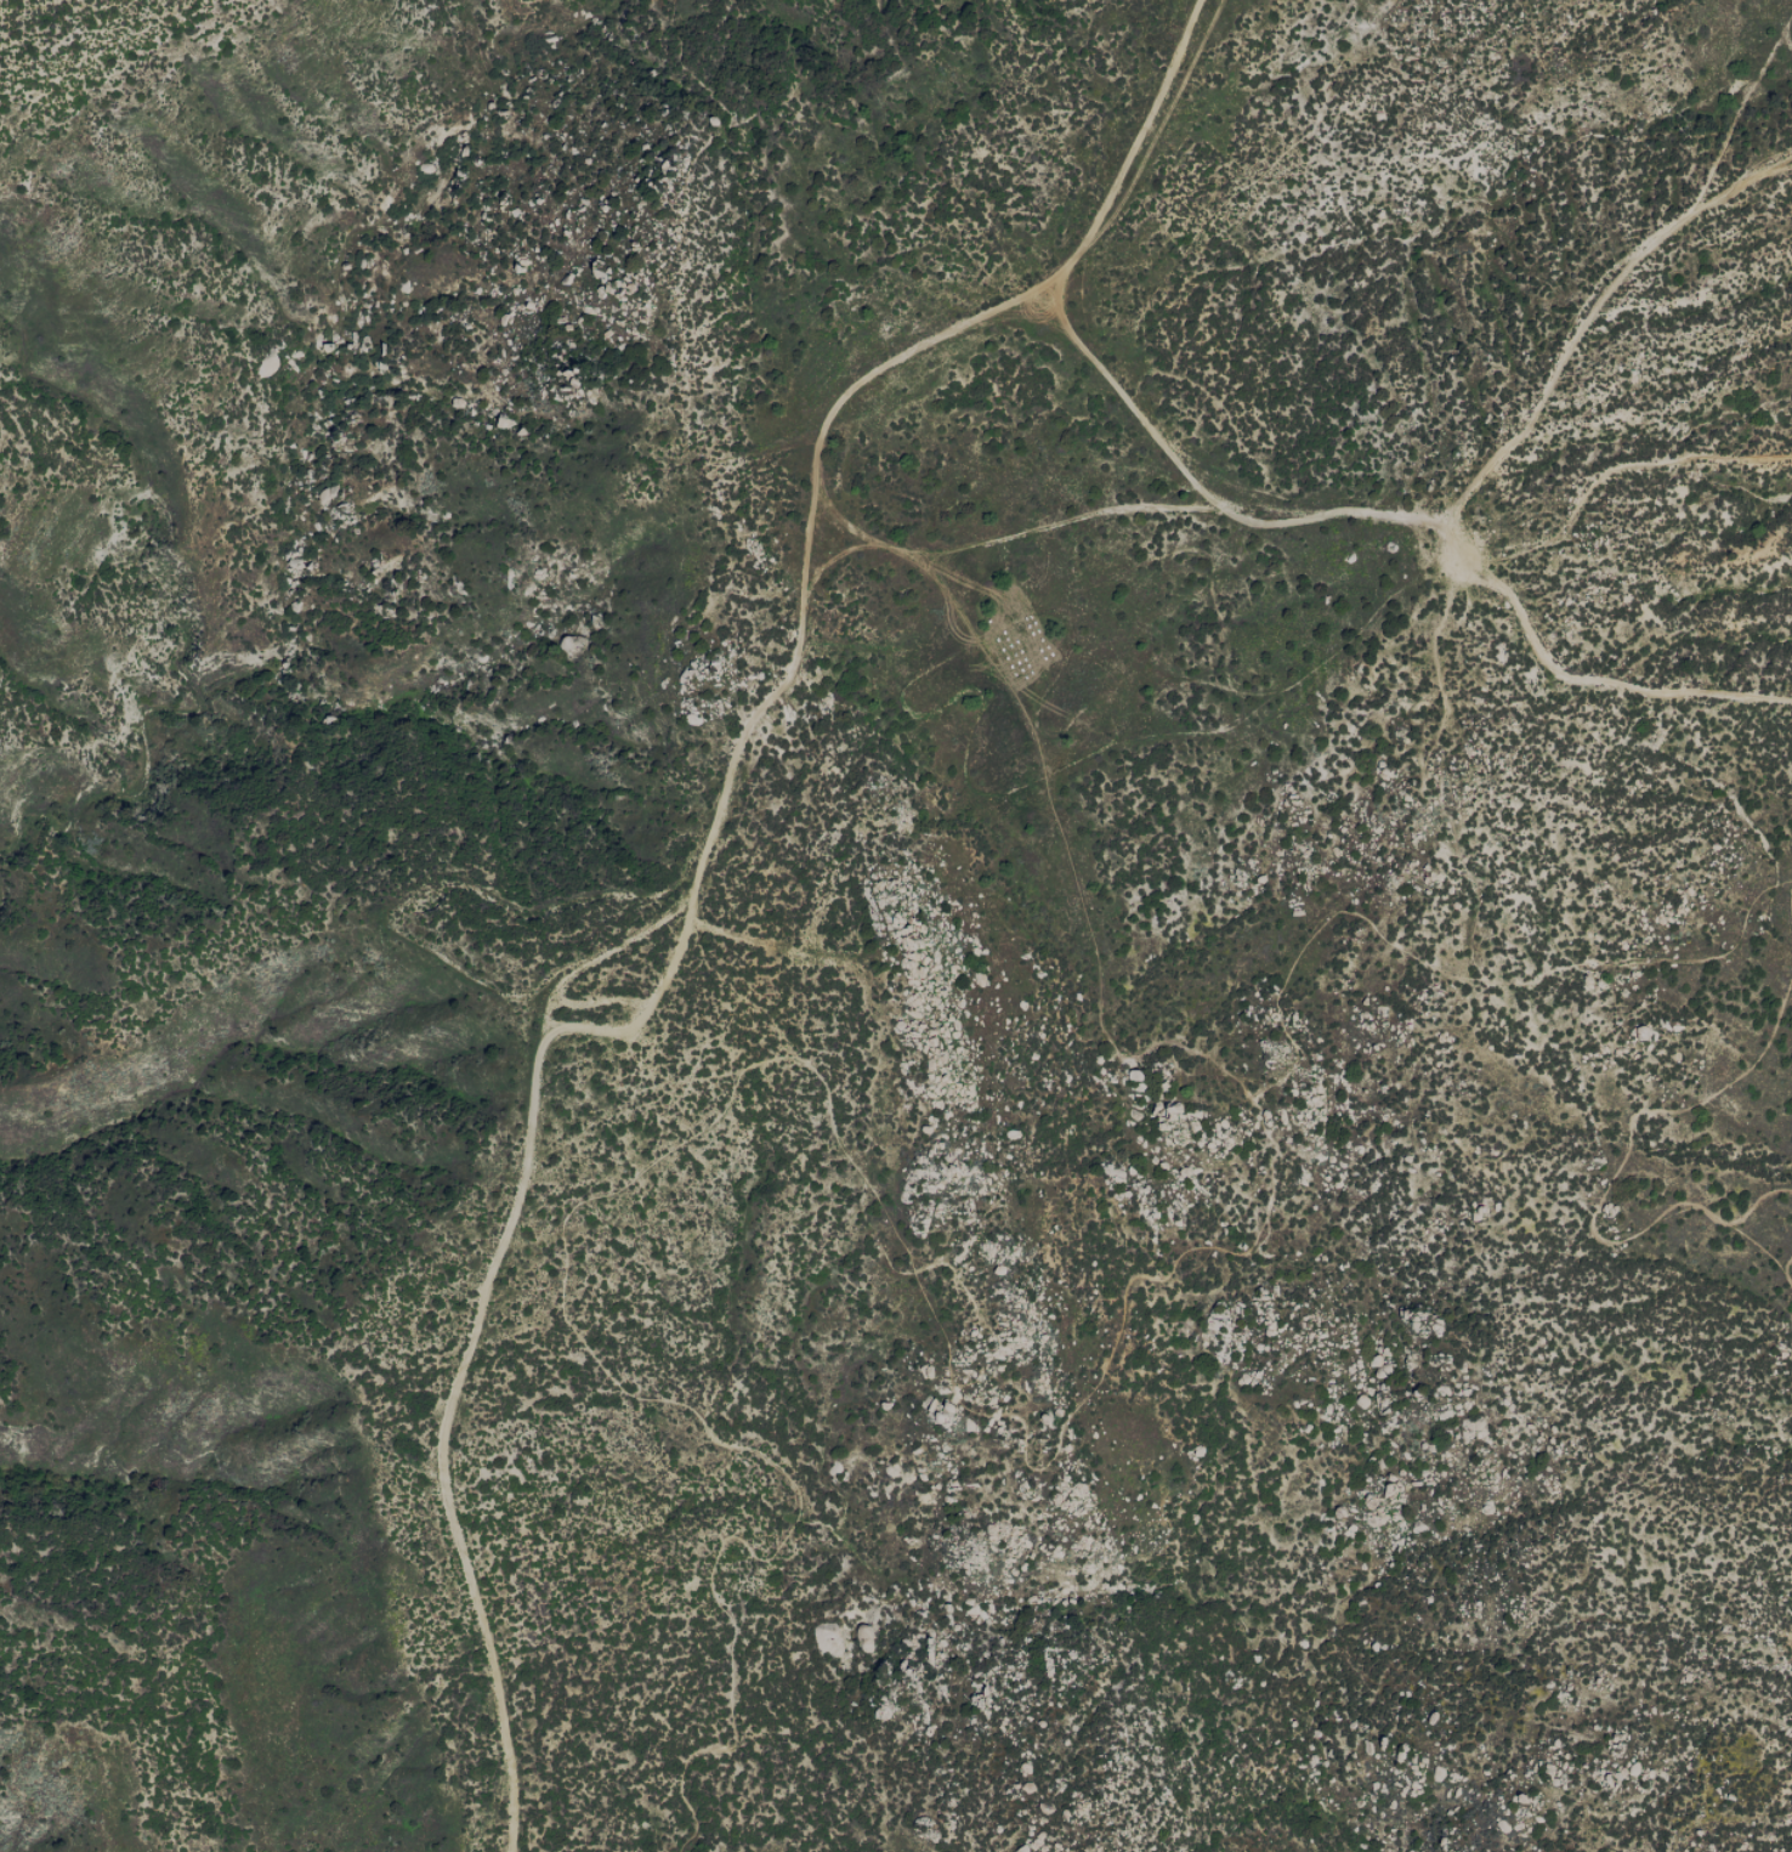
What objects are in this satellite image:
road: (640, 866)

